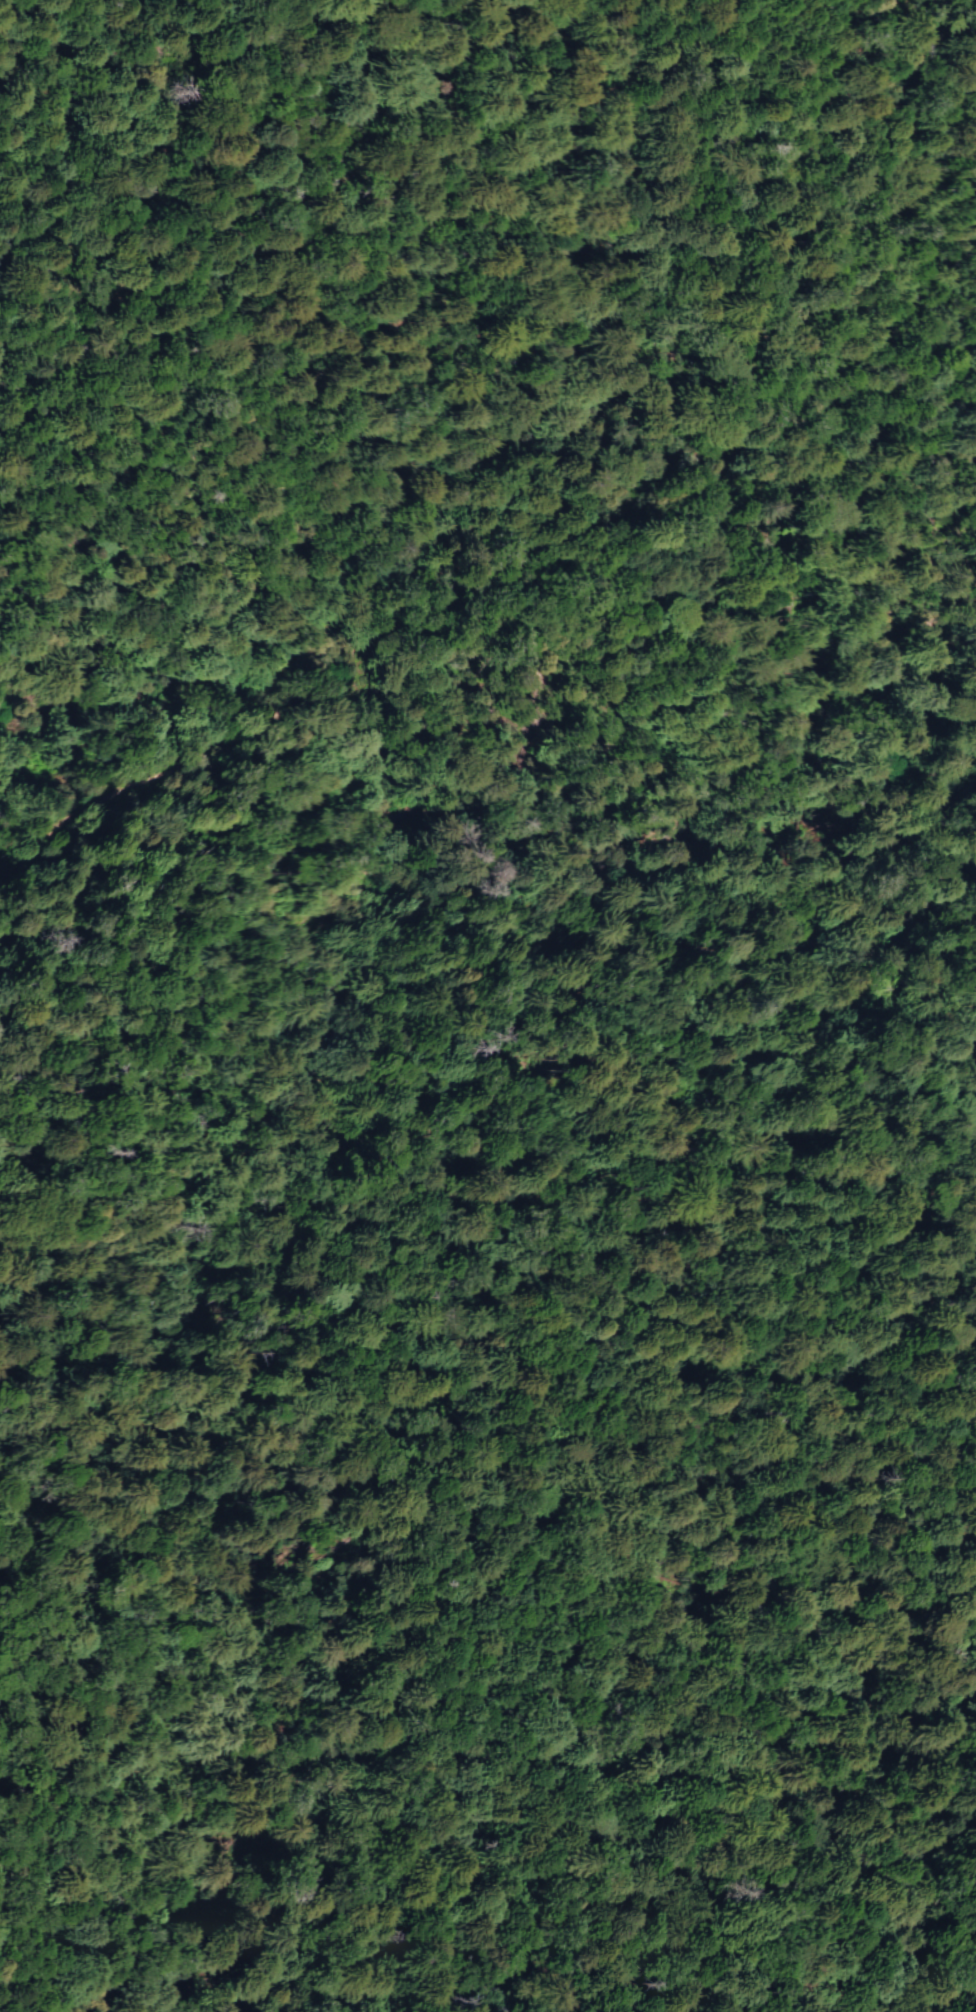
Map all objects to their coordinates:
road: (310, 12)
road: (294, 625)
road: (375, 748)
road: (168, 755)
building: (426, 790)
road: (722, 1783)

